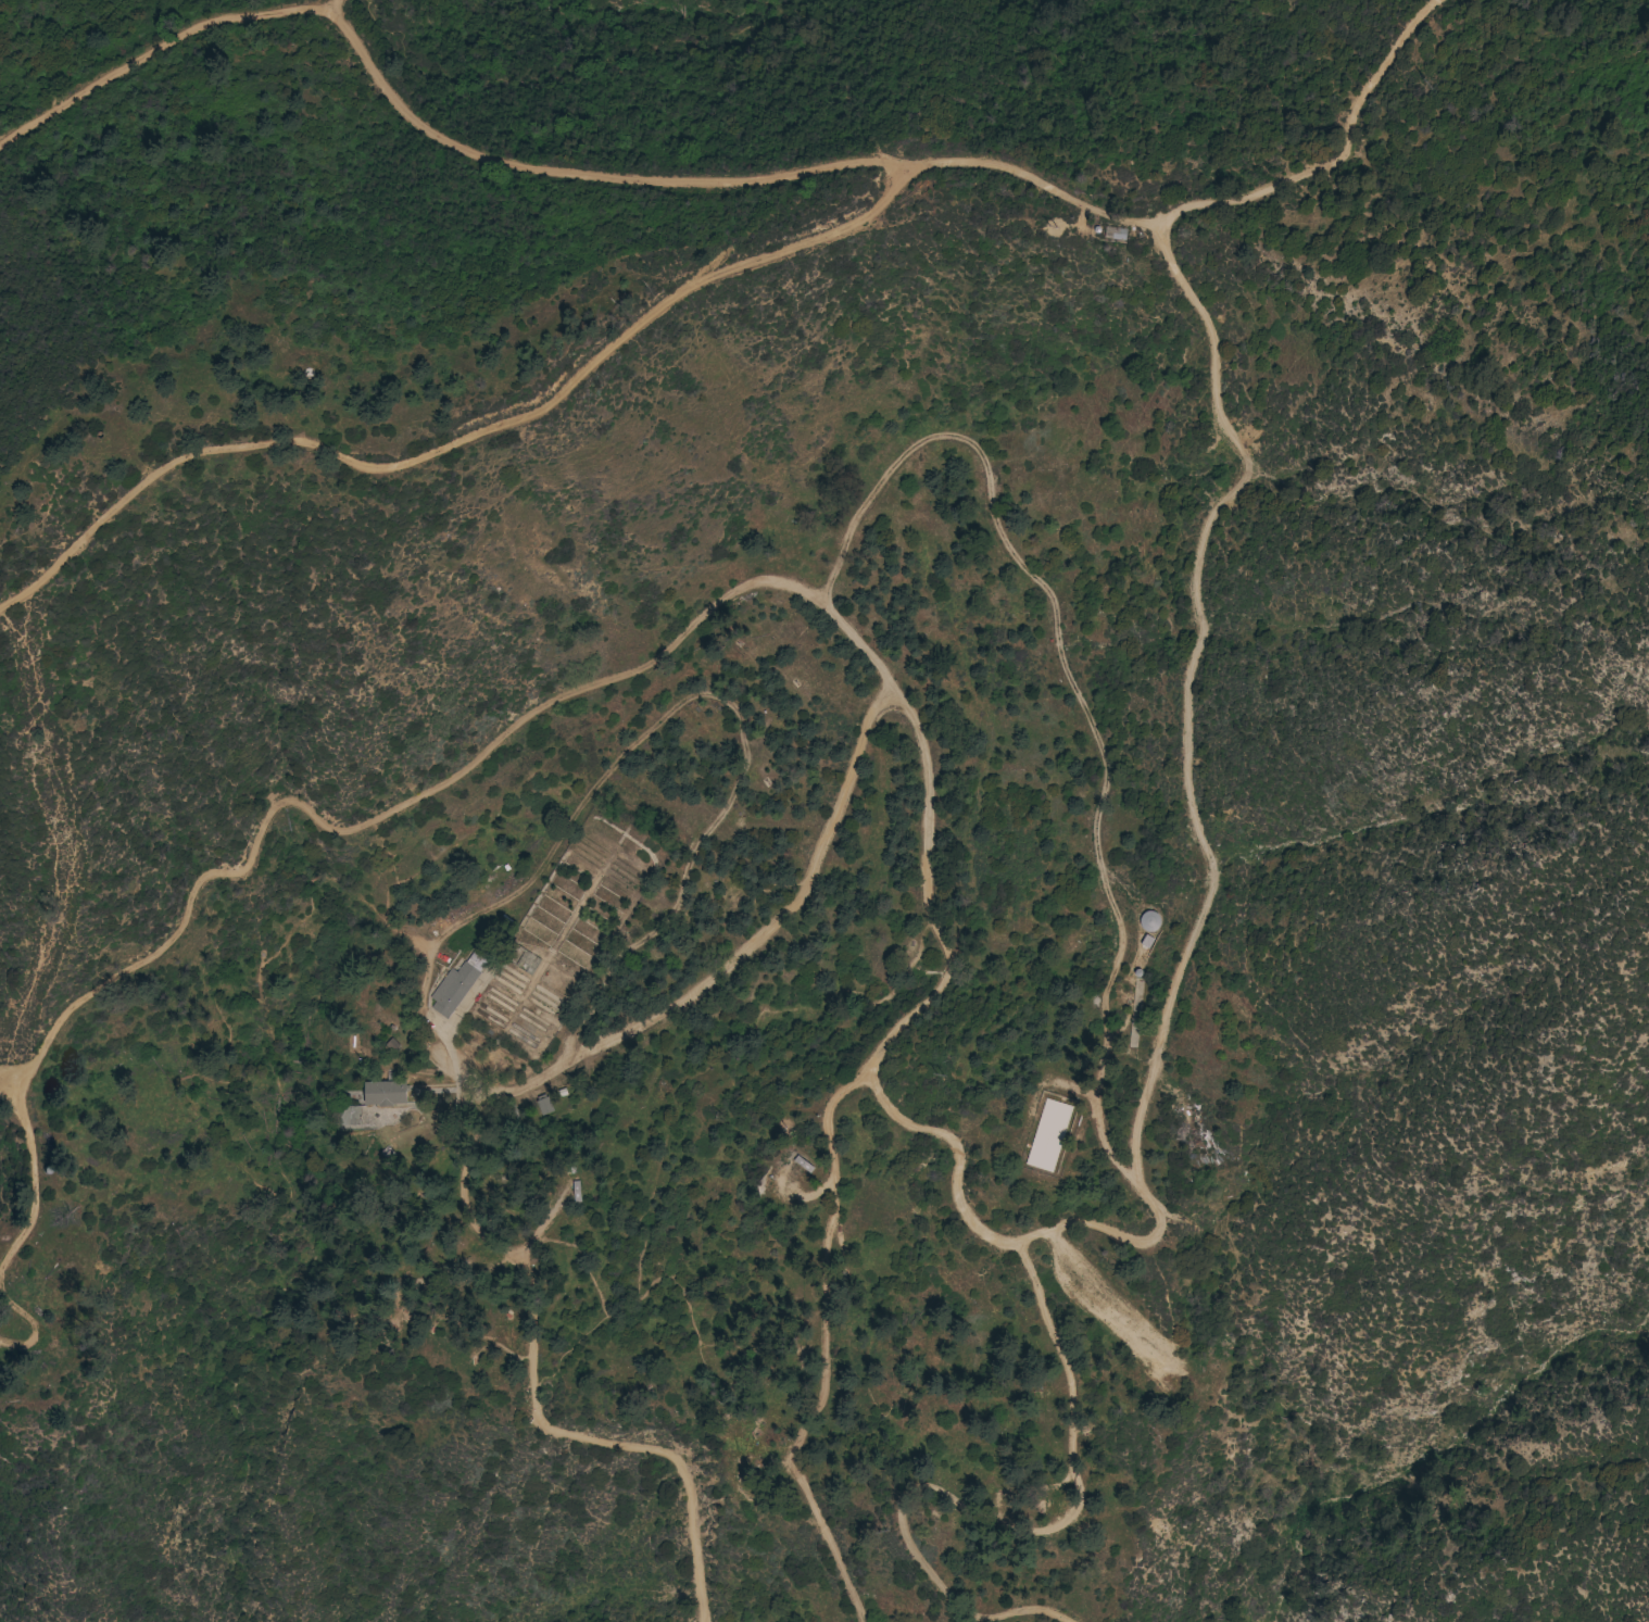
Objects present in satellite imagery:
road: (332, 4)
road: (552, 65)
road: (413, 124)
road: (1040, 188)
building: (1116, 232)
road: (474, 438)
road: (1079, 695)
road: (342, 830)
road: (380, 910)
road: (256, 921)
building: (1148, 921)
building: (460, 981)
building: (385, 1093)
building: (543, 1105)
building: (506, 1115)
building: (350, 1116)
road: (941, 1135)
building: (1048, 1135)
road: (1343, 1168)
building: (575, 1193)
road: (664, 1279)
road: (33, 1332)
road: (828, 1350)
road: (30, 1379)
road: (1014, 1527)

